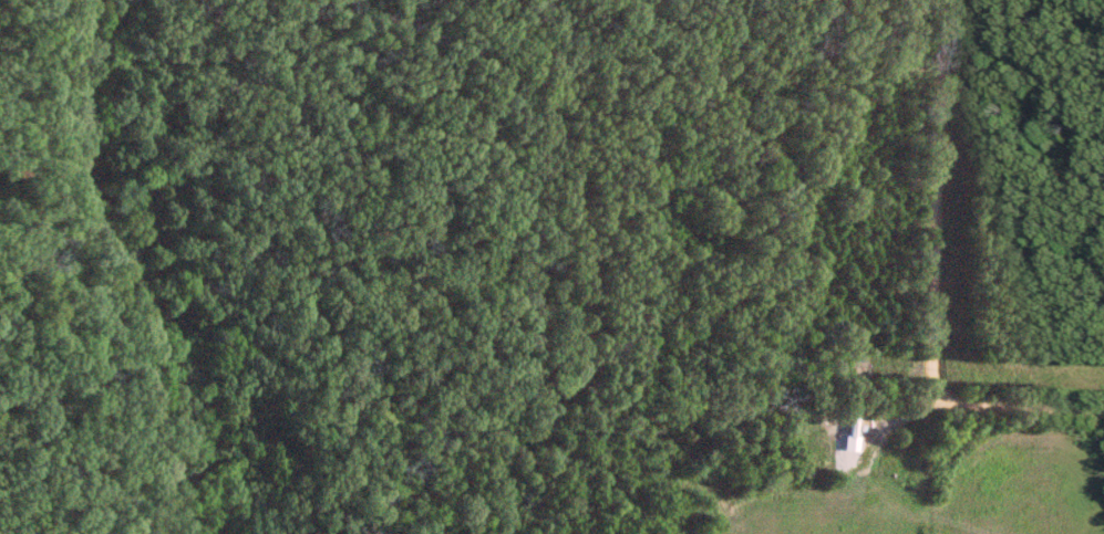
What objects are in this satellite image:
road: (936, 281)

